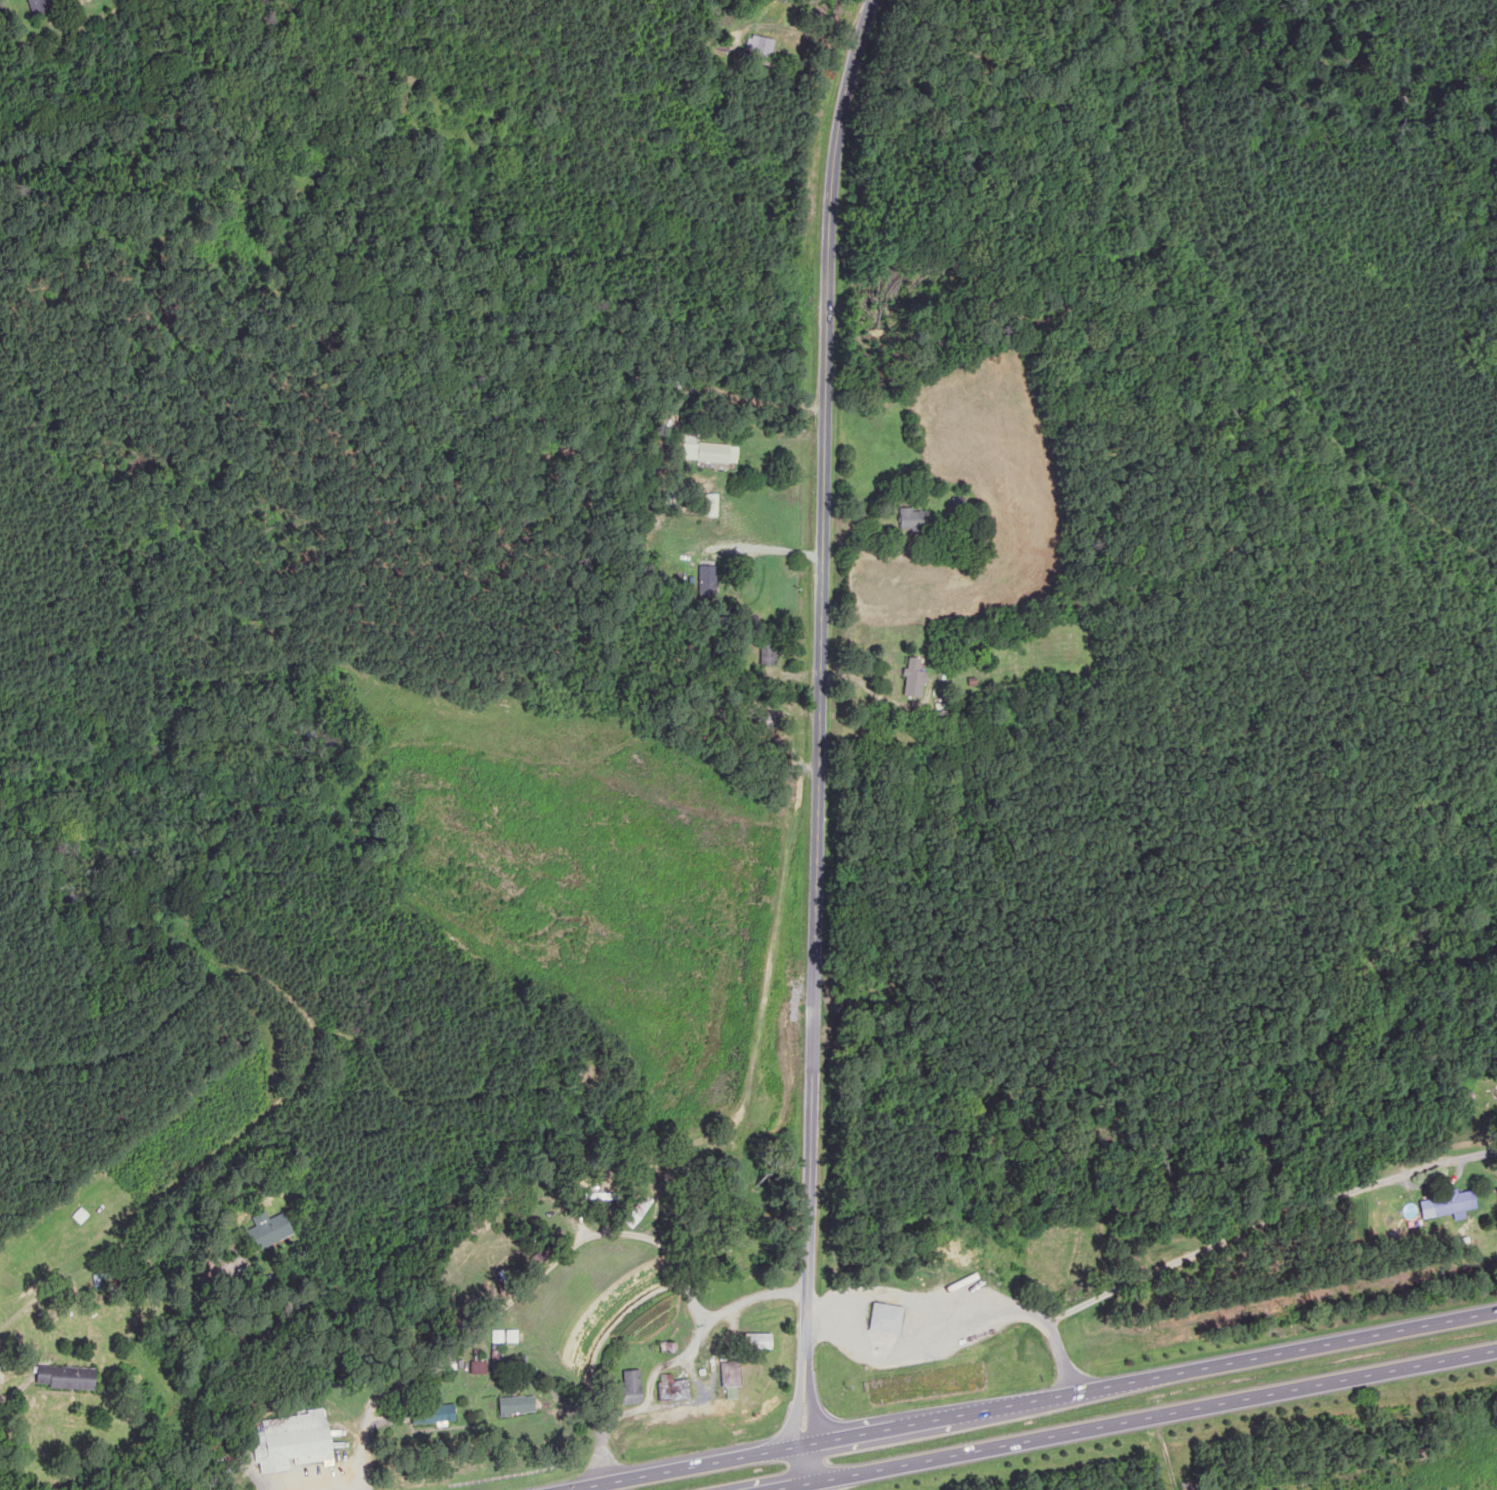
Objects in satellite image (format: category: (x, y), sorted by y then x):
road: (881, 4)
building: (36, 6)
building: (757, 47)
building: (711, 453)
building: (710, 505)
building: (916, 519)
building: (706, 584)
building: (768, 655)
building: (914, 678)
road: (820, 681)
building: (1452, 1203)
building: (266, 1231)
building: (885, 1319)
building: (756, 1343)
road: (1228, 1362)
building: (728, 1374)
building: (63, 1378)
building: (630, 1387)
building: (672, 1389)
building: (432, 1414)
road: (1149, 1416)
road: (795, 1427)
road: (812, 1427)
road: (886, 1429)
building: (293, 1442)
road: (803, 1445)
road: (682, 1468)
road: (786, 1487)

